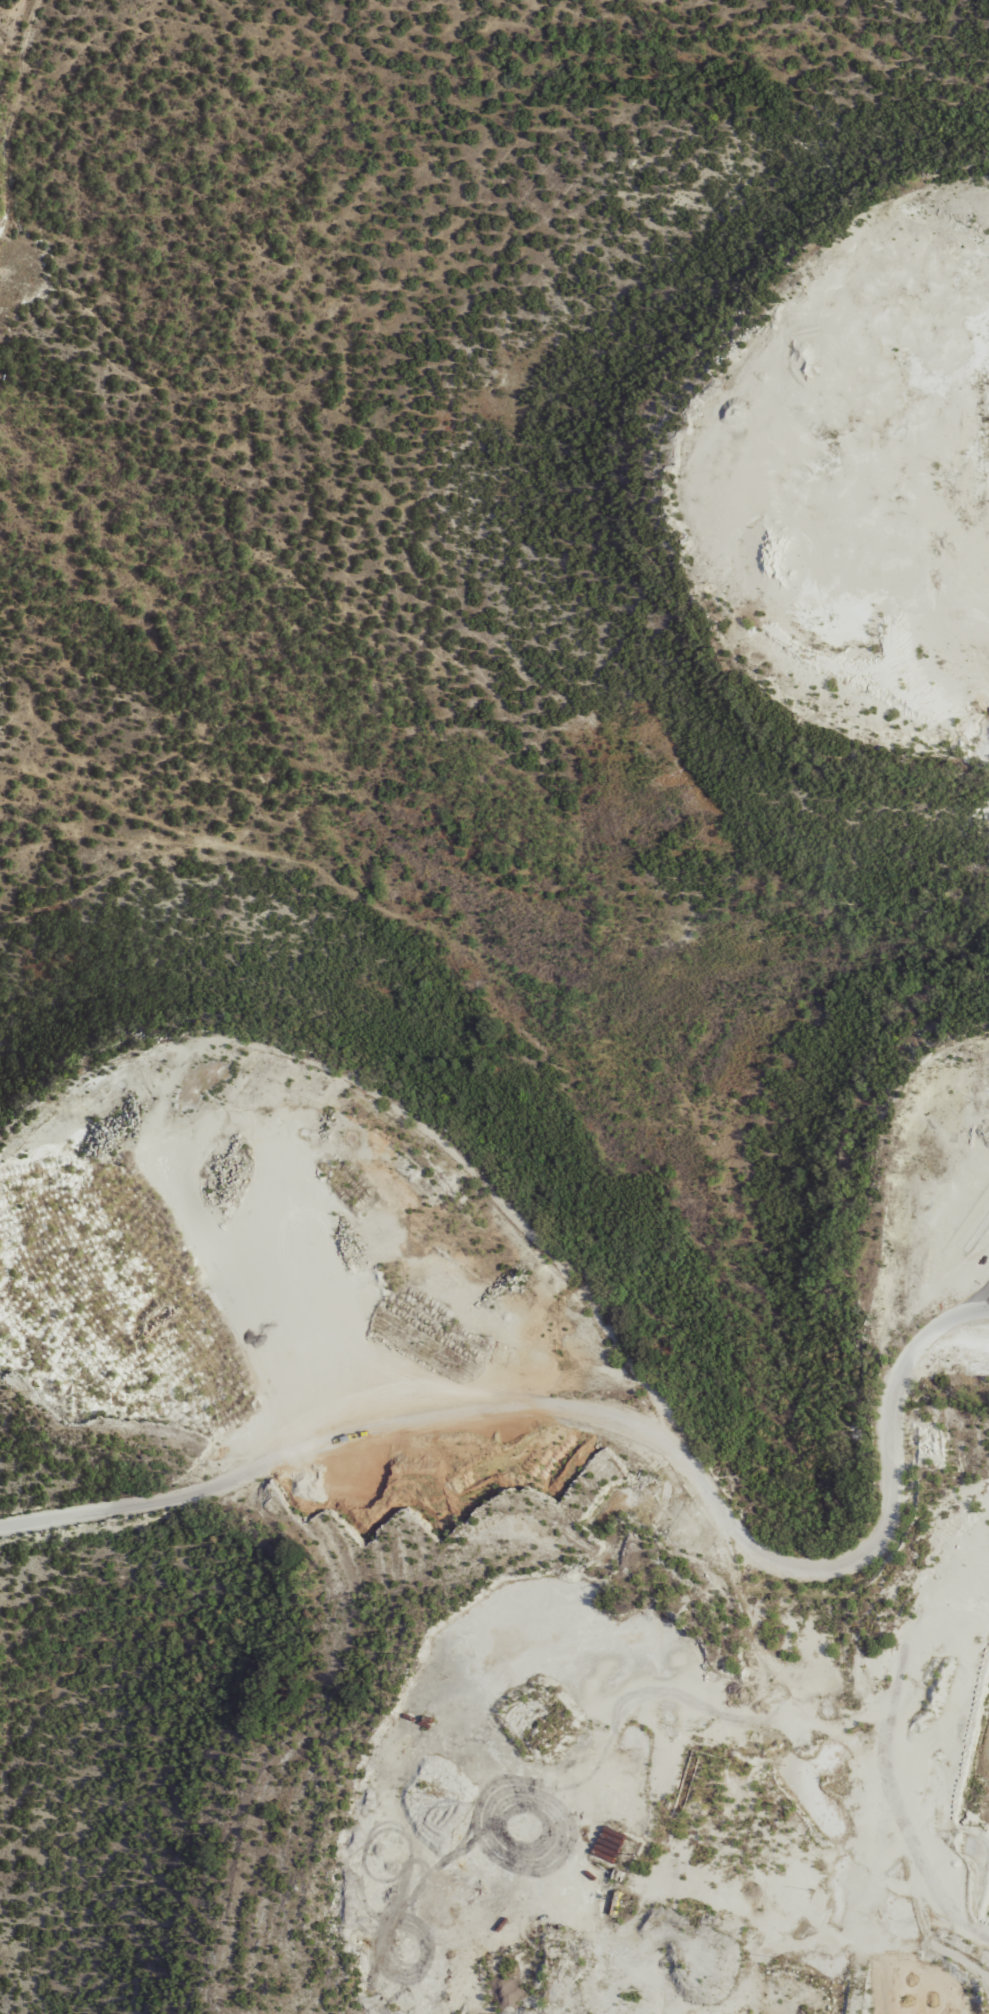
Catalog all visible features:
road: (611, 1418)

